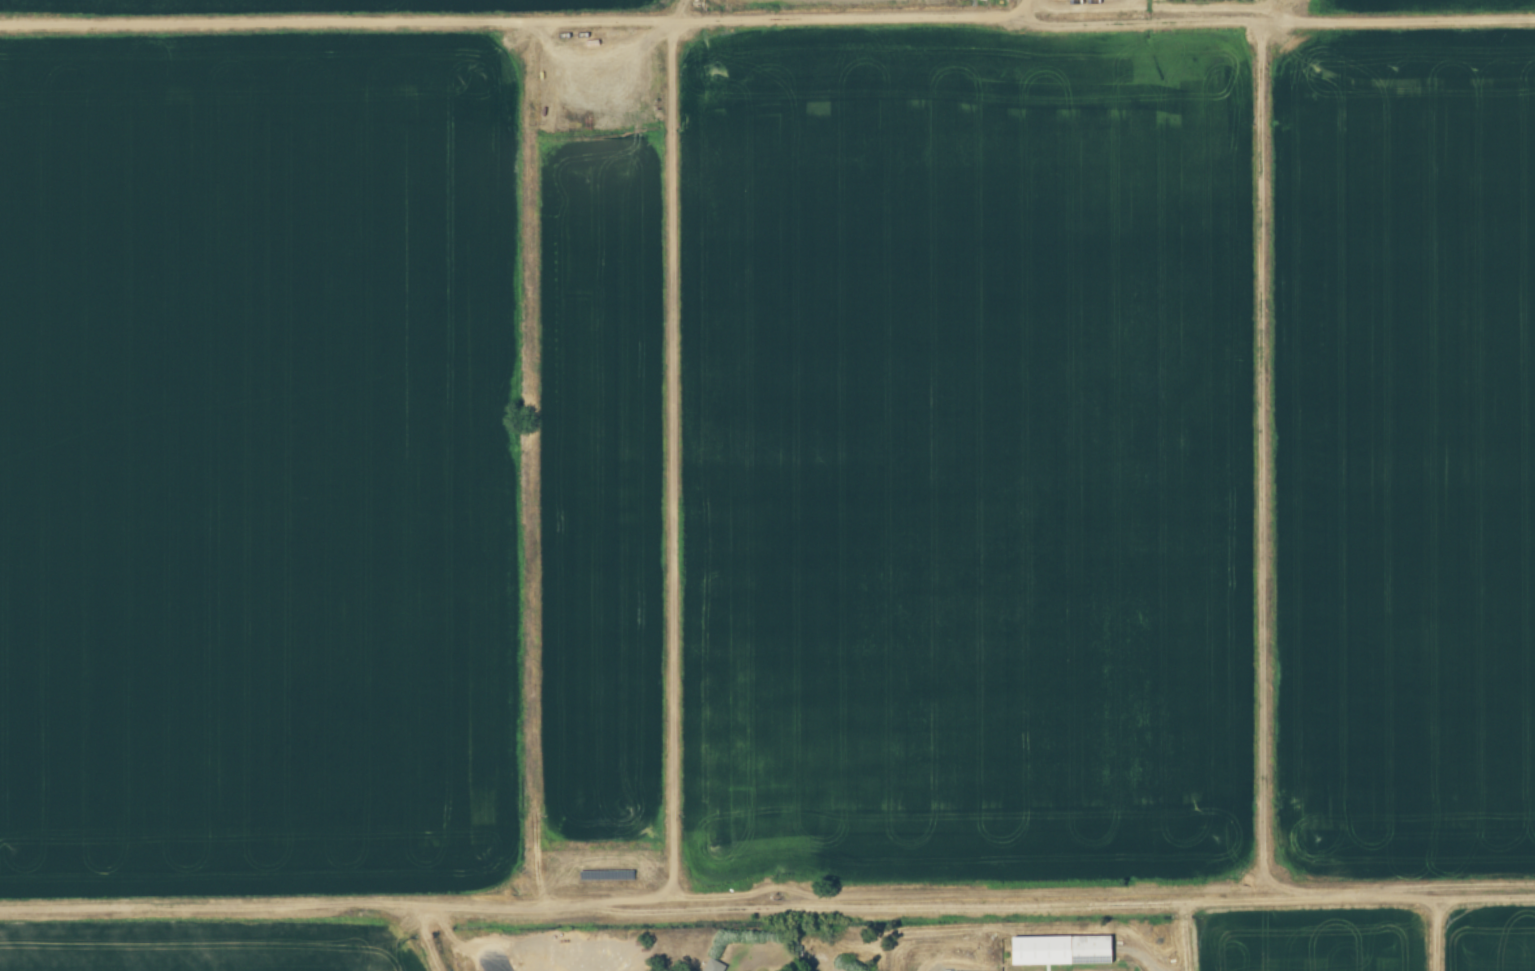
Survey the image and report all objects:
building: (1060, 950)
building: (716, 960)
airport taxiway: (523, 965)
airport runway: (492, 966)

